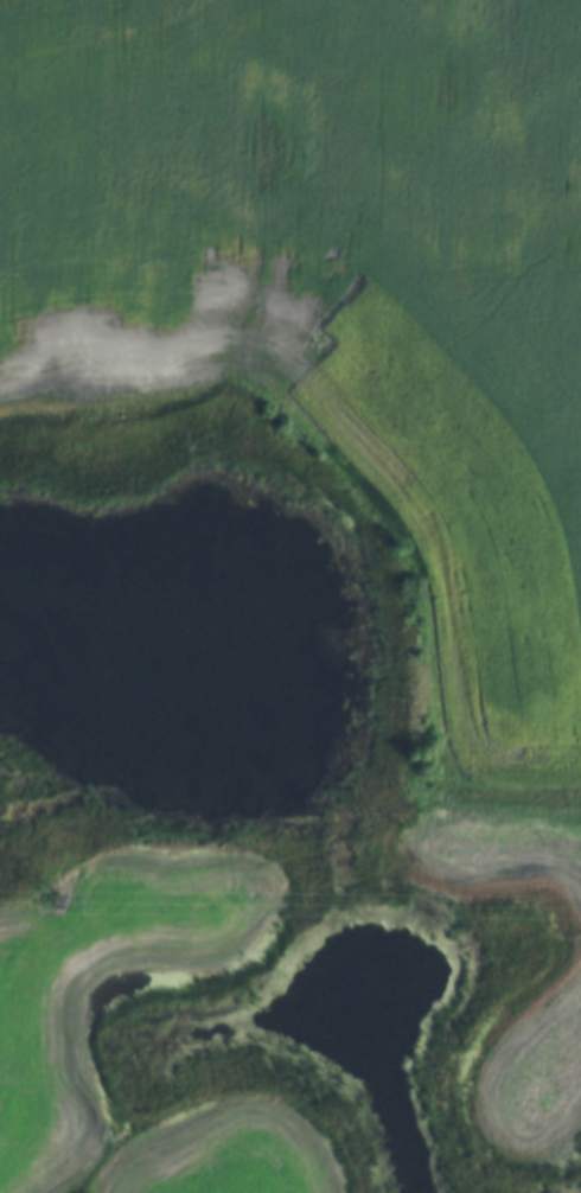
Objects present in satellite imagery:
power tower: (58, 901)

